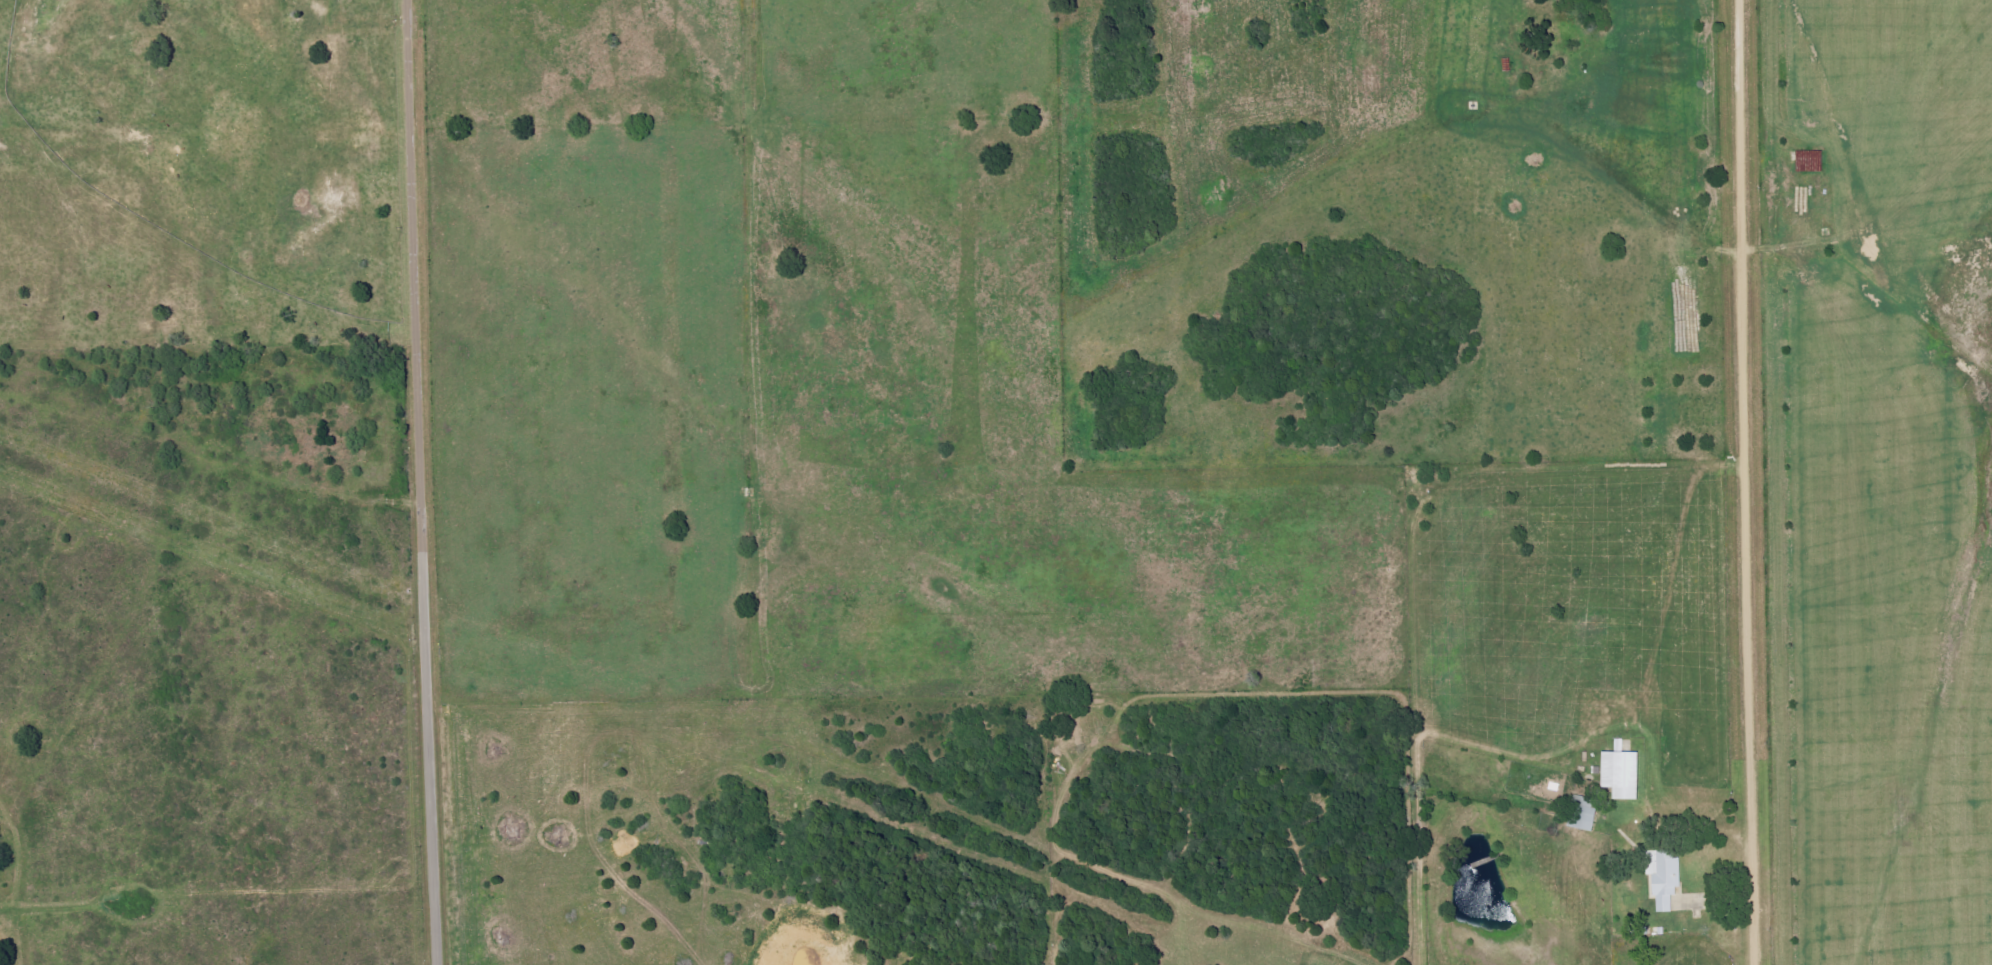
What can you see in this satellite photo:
road: (421, 482)
road: (1743, 482)
building: (1623, 775)
building: (1584, 814)
building: (1665, 879)

